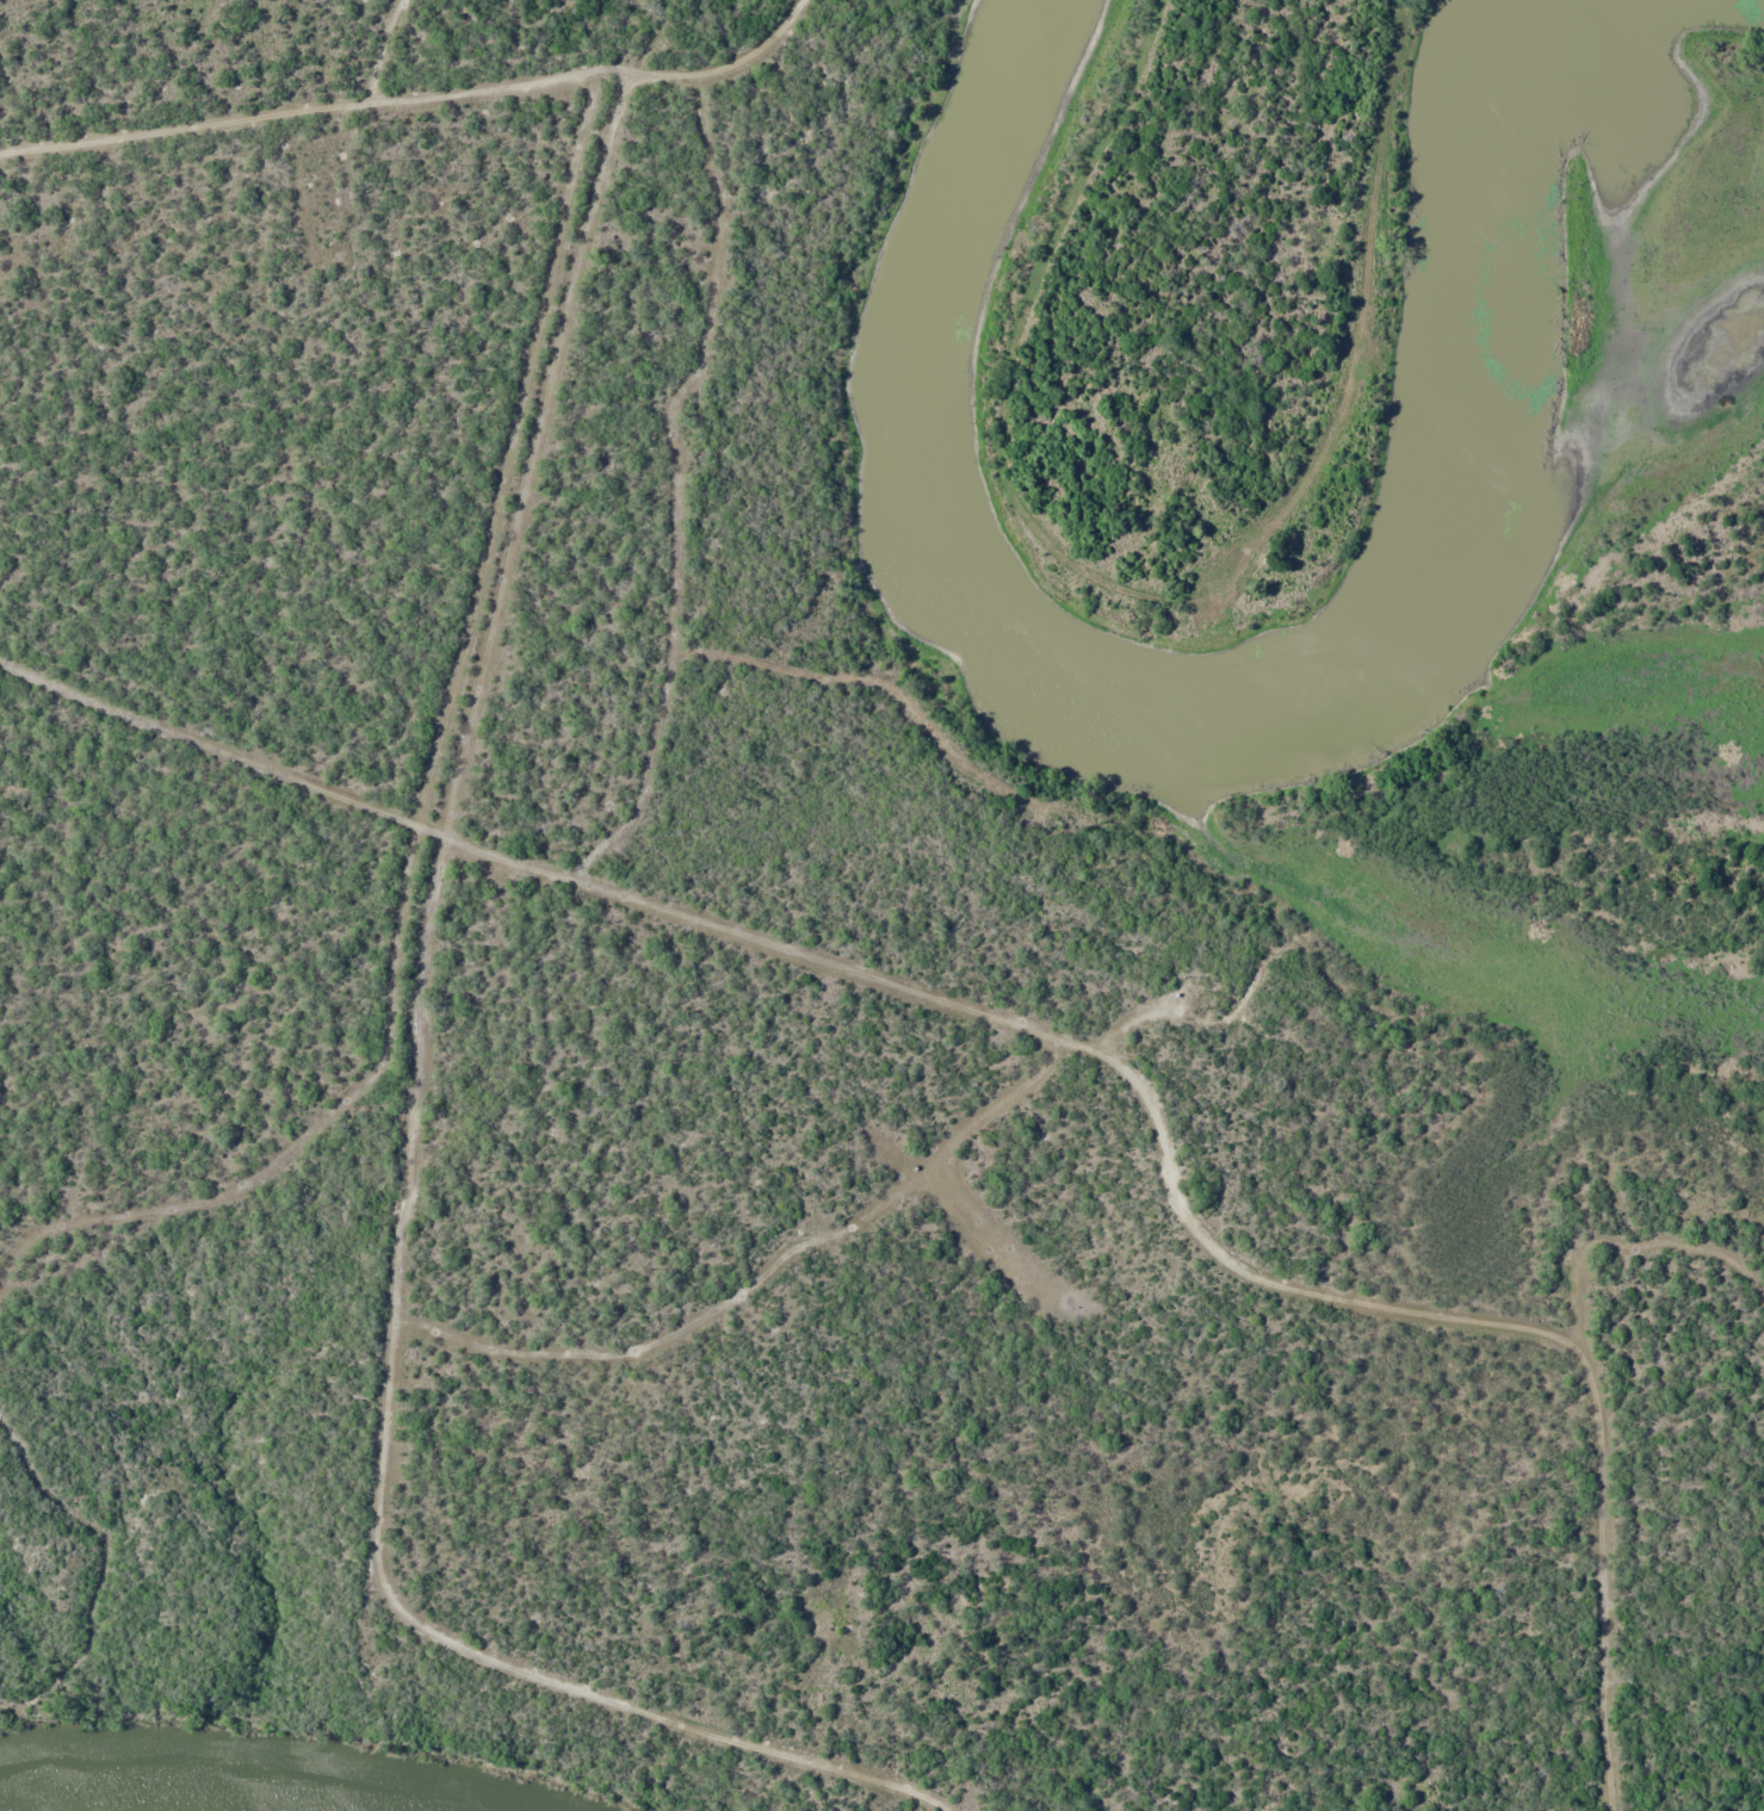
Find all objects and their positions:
road: (485, 136)
road: (856, 994)
river: (221, 1770)

